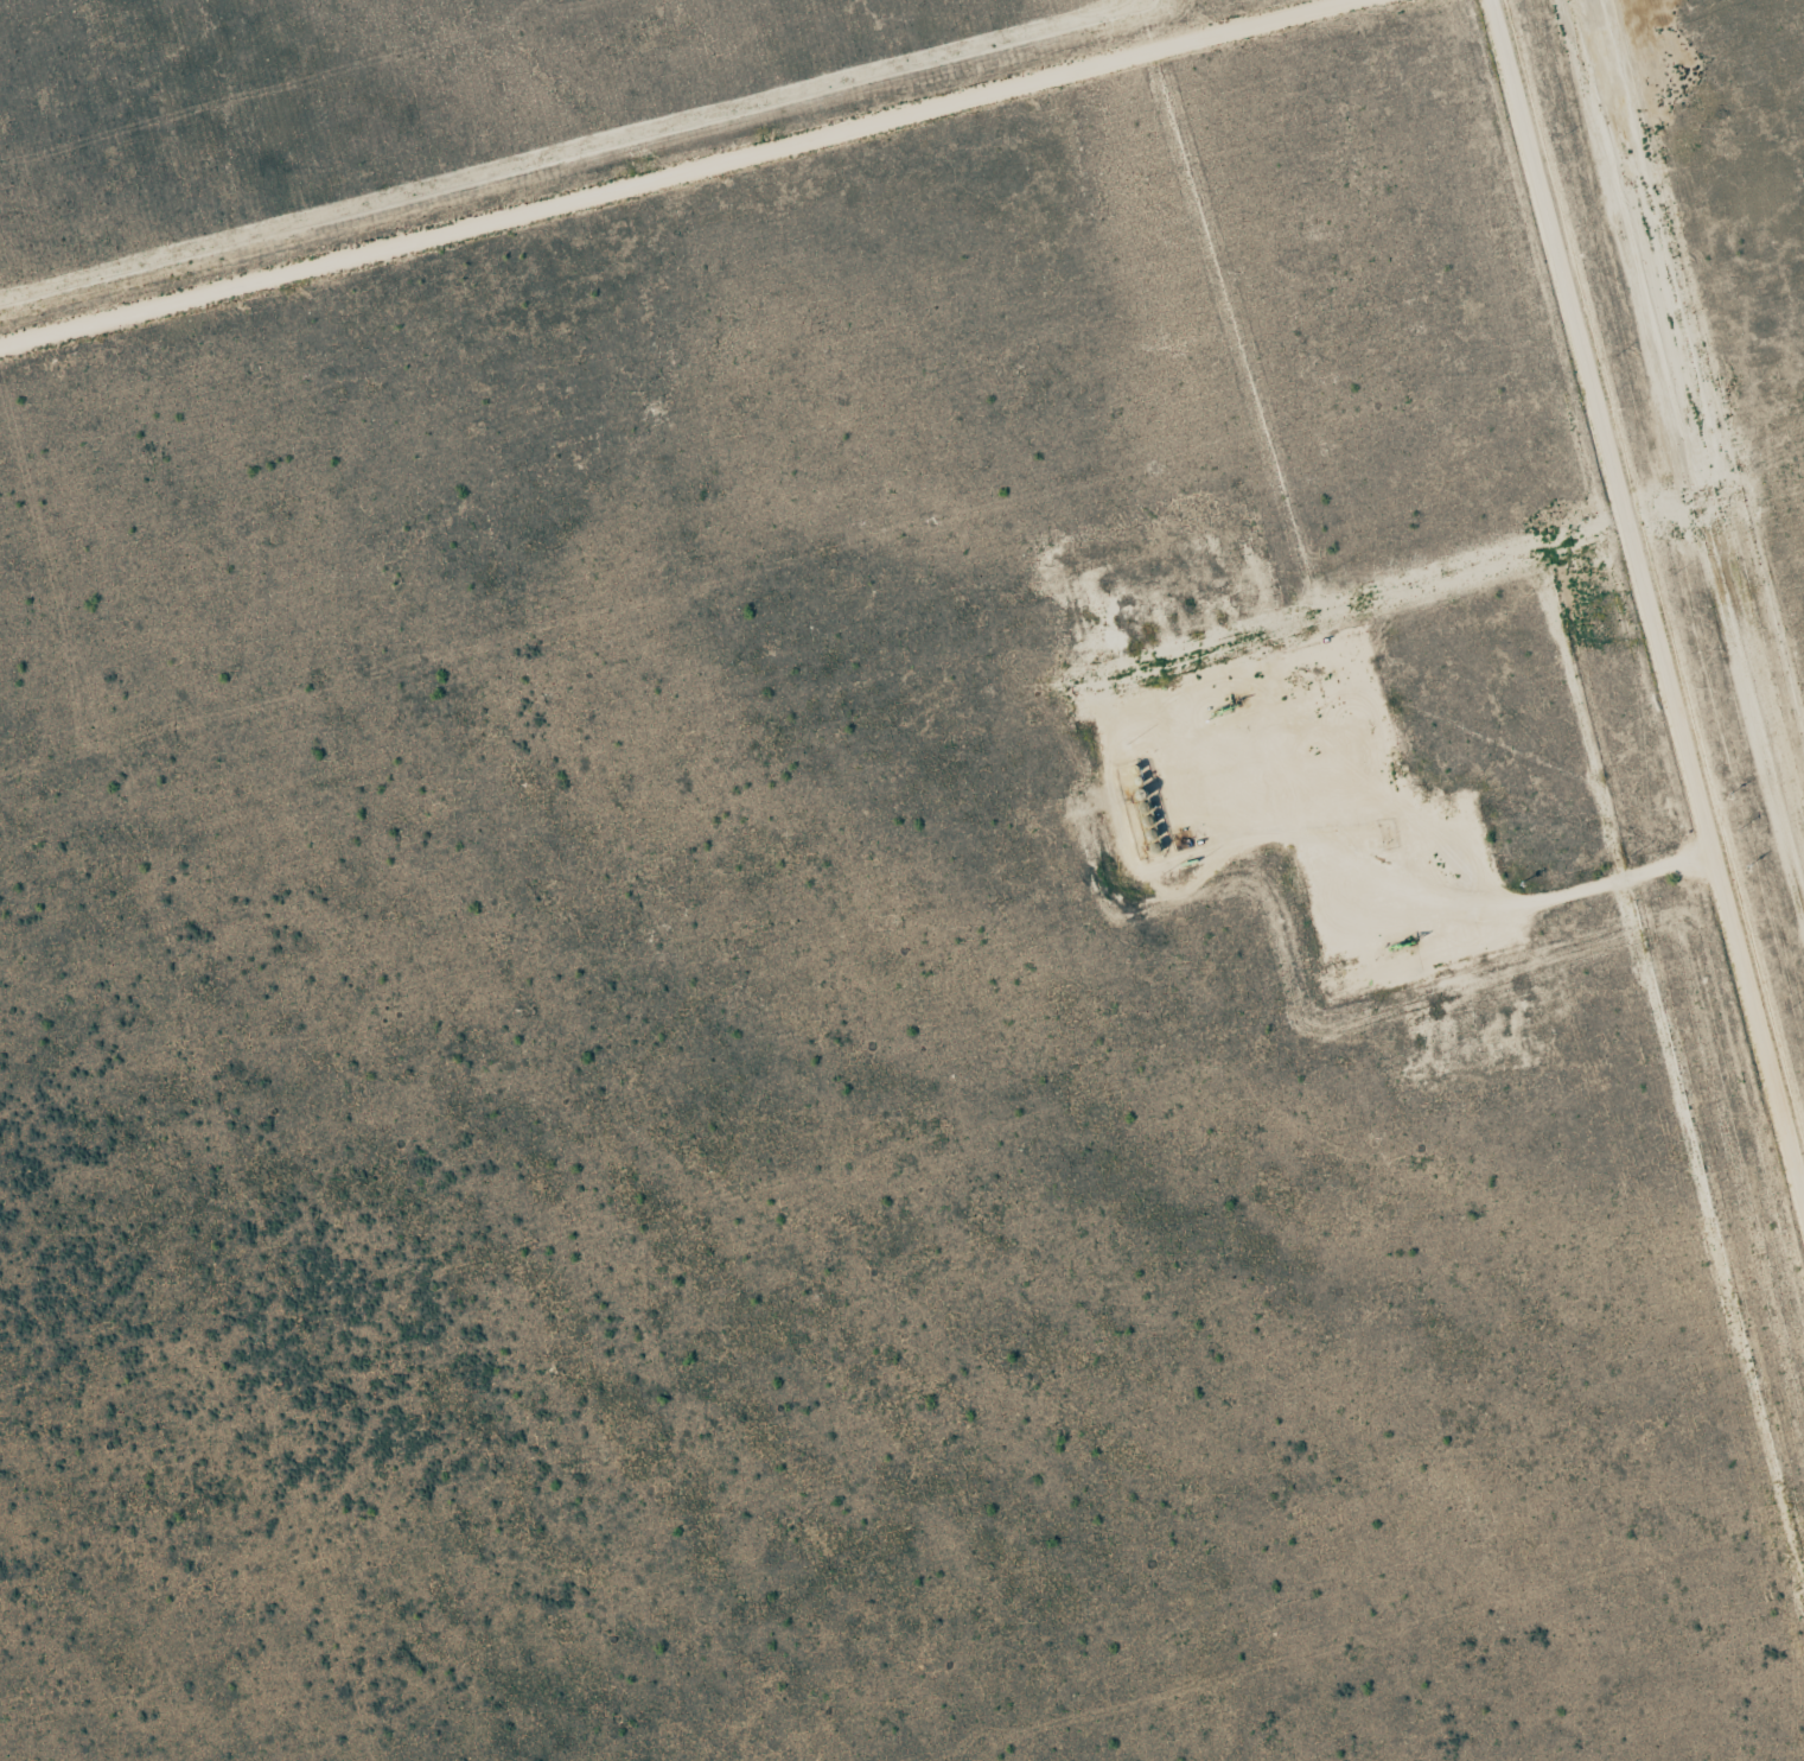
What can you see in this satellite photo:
road: (1652, 593)

